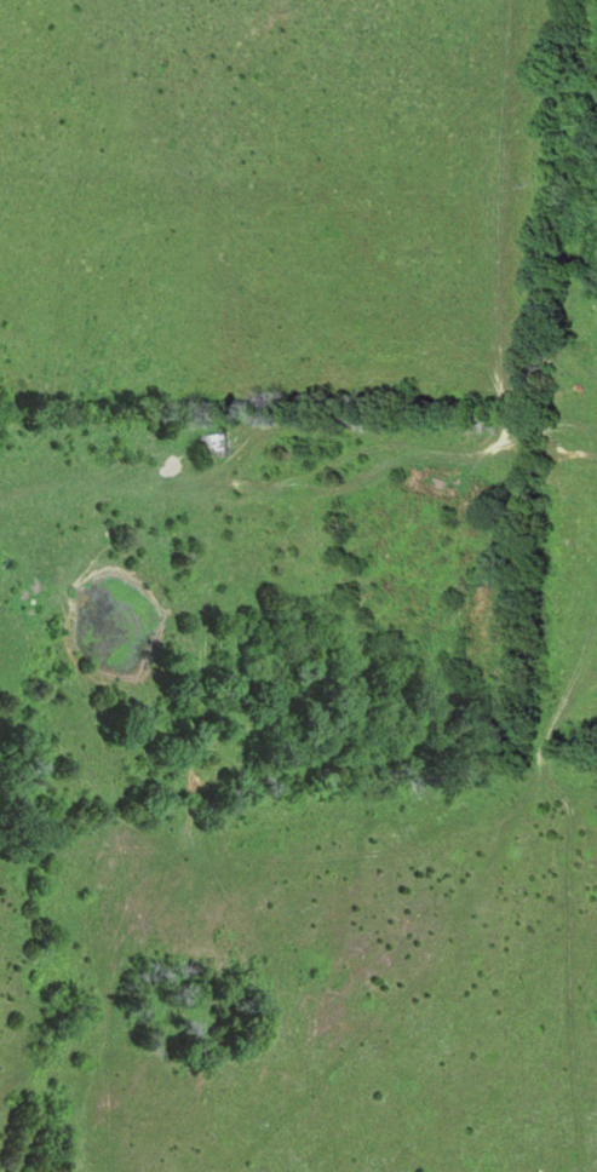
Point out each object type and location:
building: (222, 444)

